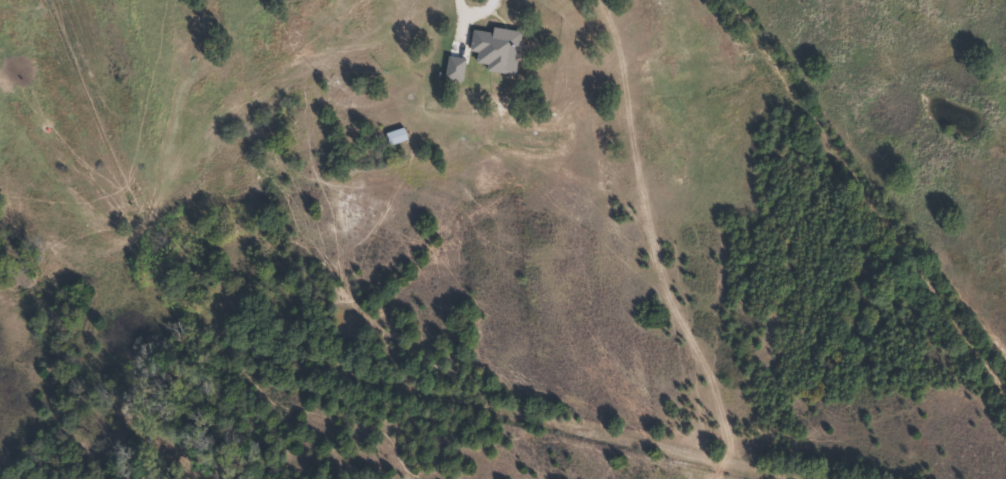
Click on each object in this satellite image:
building: (496, 84)
building: (391, 137)

